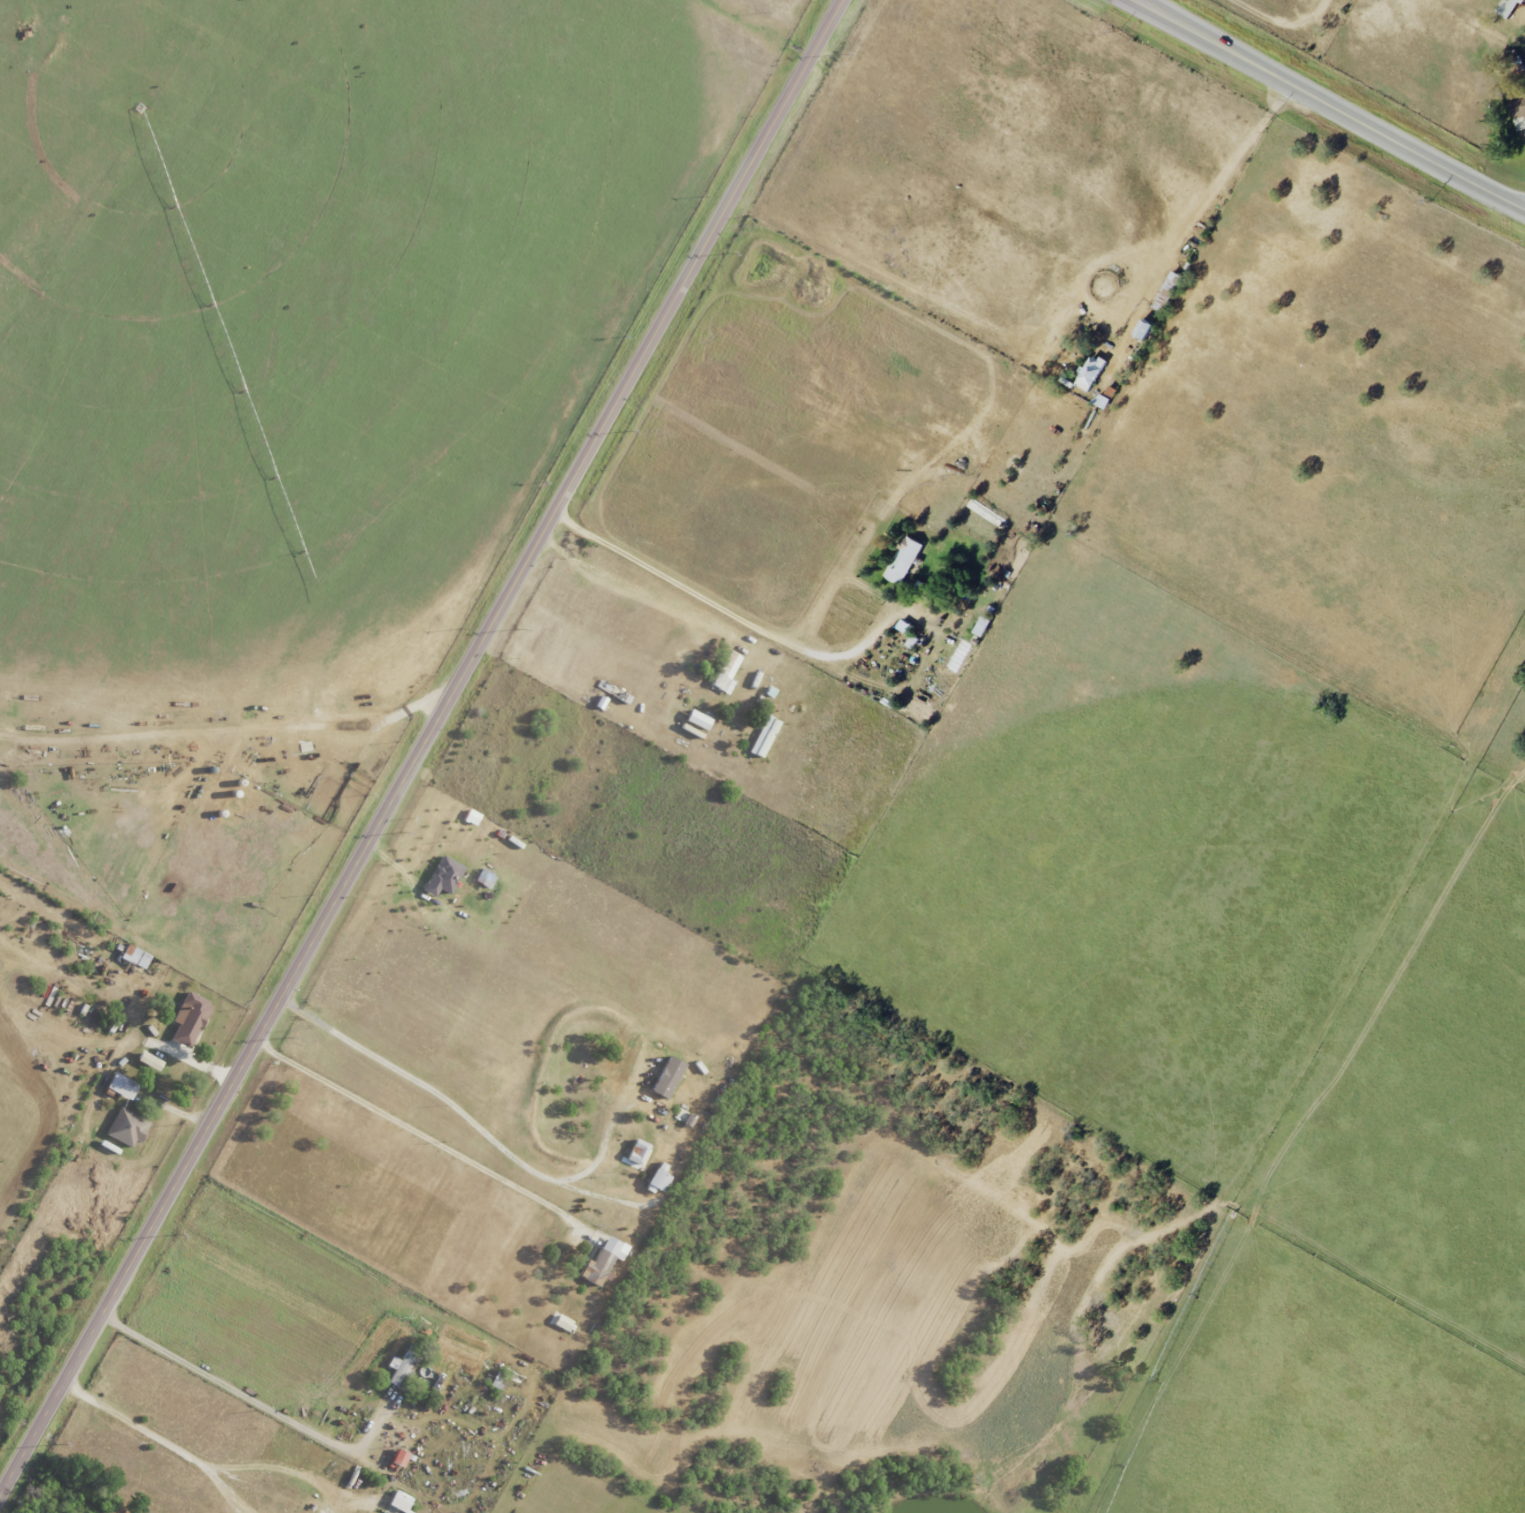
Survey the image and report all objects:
building: (1506, 8)
power tower: (840, 57)
road: (1328, 107)
building: (1517, 113)
road: (941, 219)
power tower: (729, 255)
building: (1165, 292)
building: (1141, 330)
building: (1089, 373)
power tower: (629, 433)
building: (902, 560)
road: (706, 599)
power tower: (517, 631)
building: (724, 673)
road: (714, 715)
building: (695, 720)
building: (762, 737)
road: (423, 749)
power tower: (404, 833)
building: (441, 876)
building: (131, 956)
building: (187, 1019)
power tower: (289, 1037)
building: (665, 1077)
building: (119, 1086)
building: (125, 1128)
road: (422, 1130)
road: (489, 1136)
building: (635, 1152)
building: (655, 1180)
power tower: (175, 1237)
building: (603, 1258)
building: (560, 1322)
building: (400, 1367)
road: (248, 1396)
road: (140, 1422)
power tower: (57, 1446)
building: (396, 1458)
road: (288, 1465)
road: (234, 1493)
building: (397, 1501)

